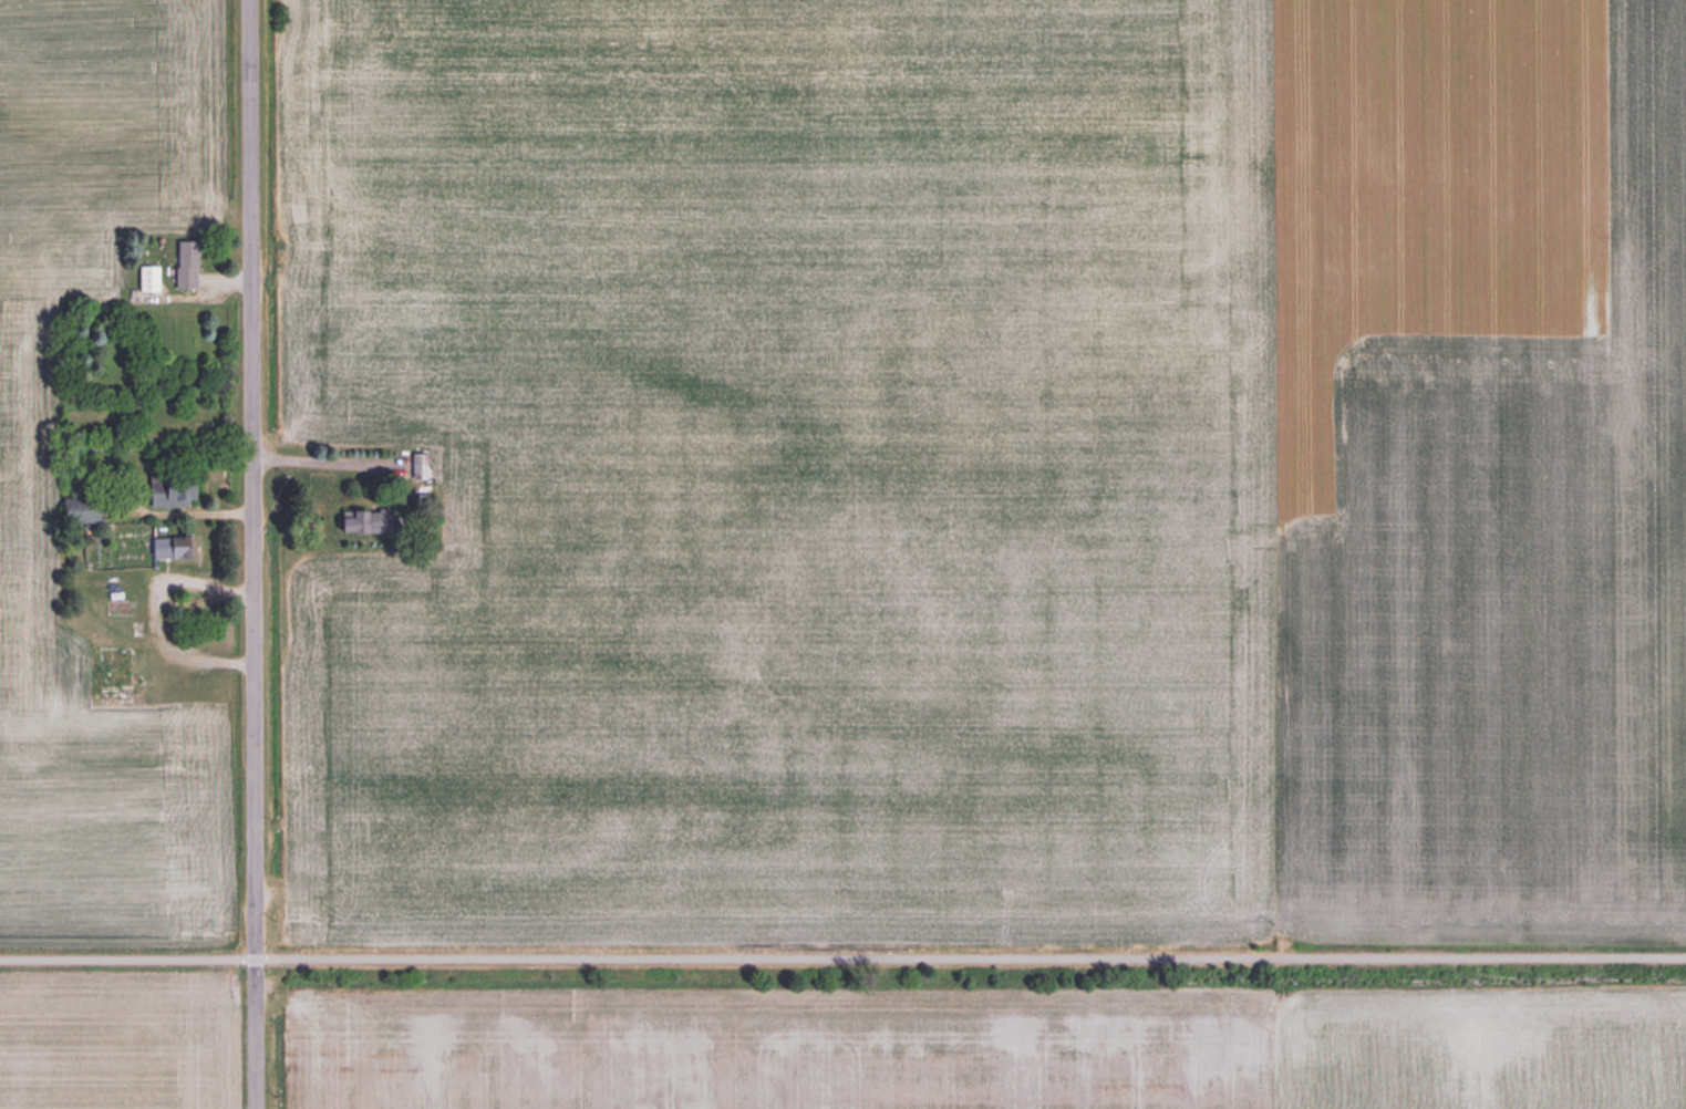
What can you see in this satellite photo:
building: (185, 263)
building: (147, 277)
road: (327, 460)
building: (418, 466)
building: (170, 489)
building: (79, 509)
building: (359, 521)
building: (173, 547)
road: (251, 554)
building: (116, 607)
road: (842, 956)

